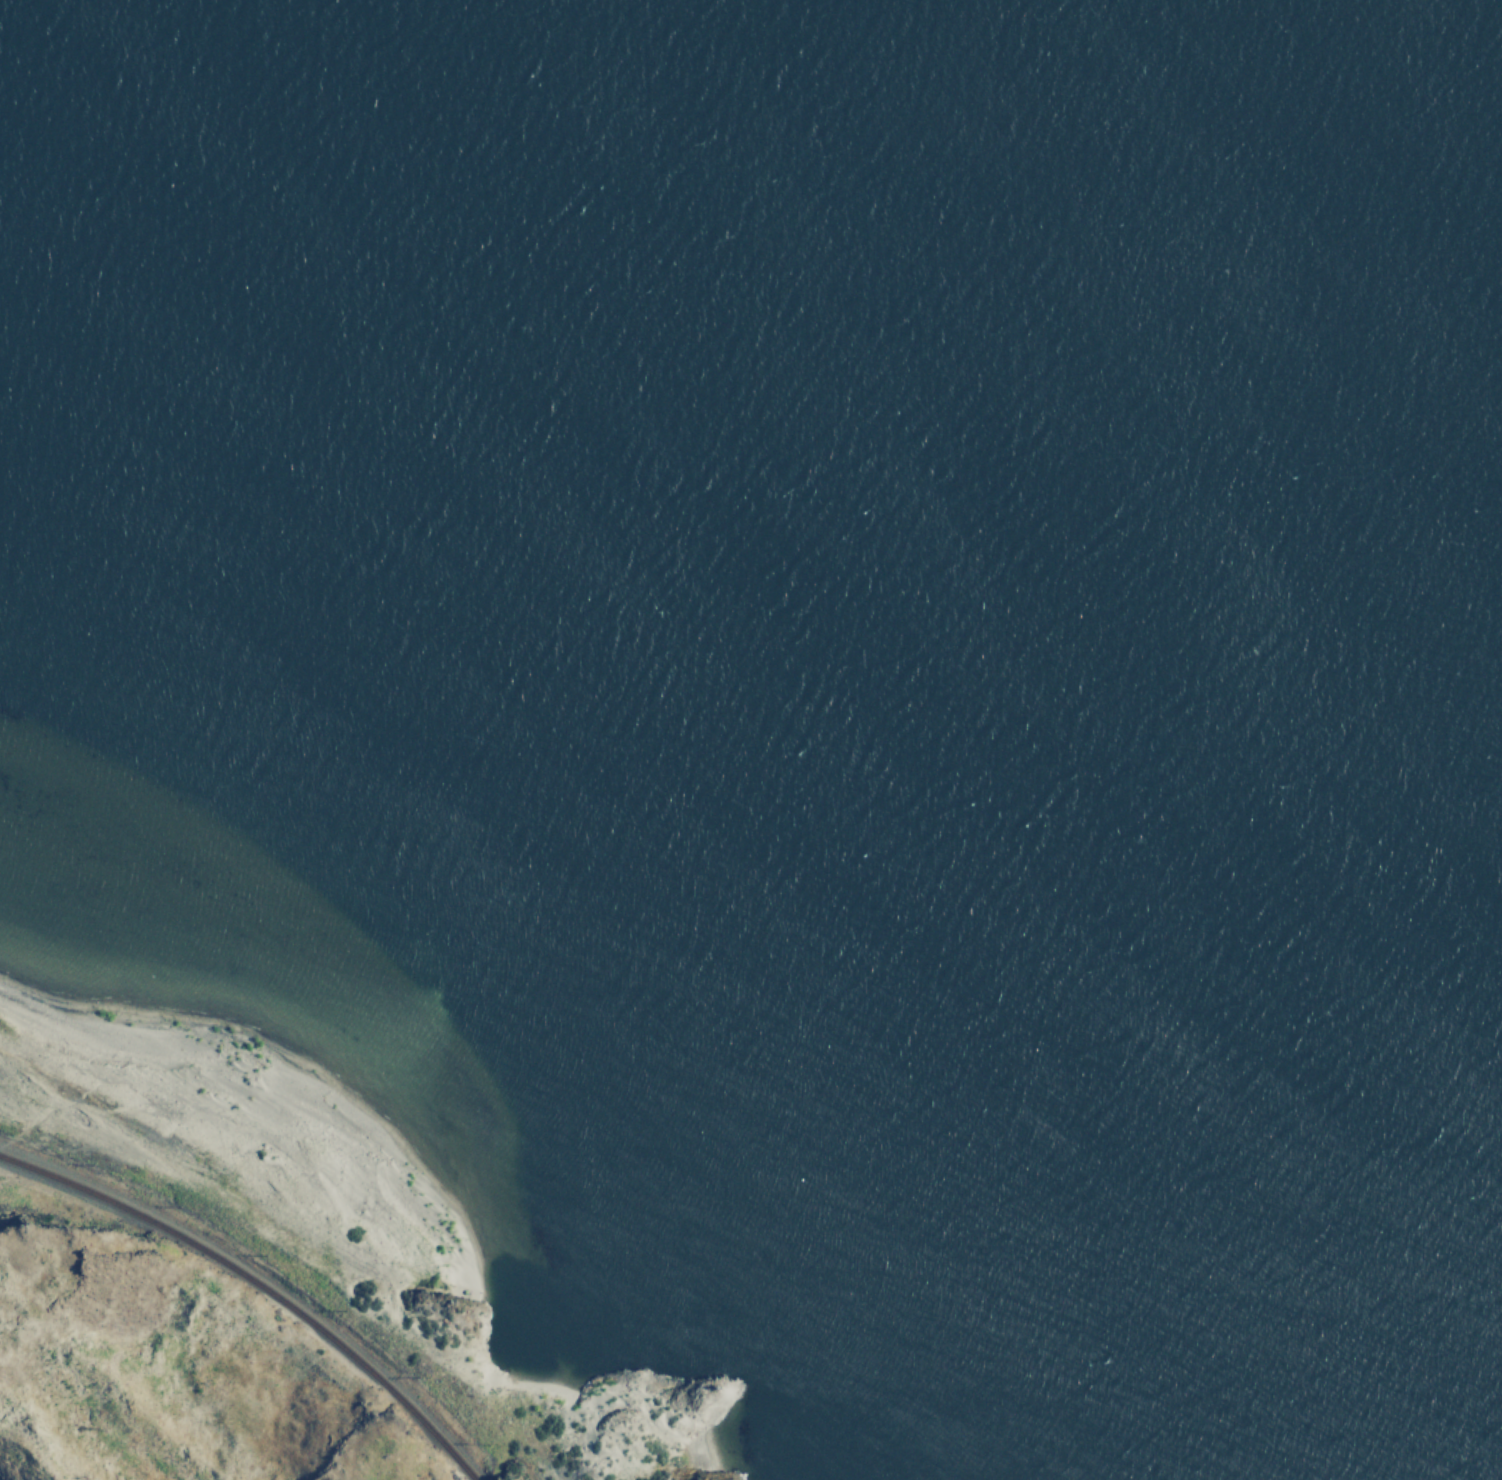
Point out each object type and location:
river: (1102, 566)
railway: (260, 1285)

